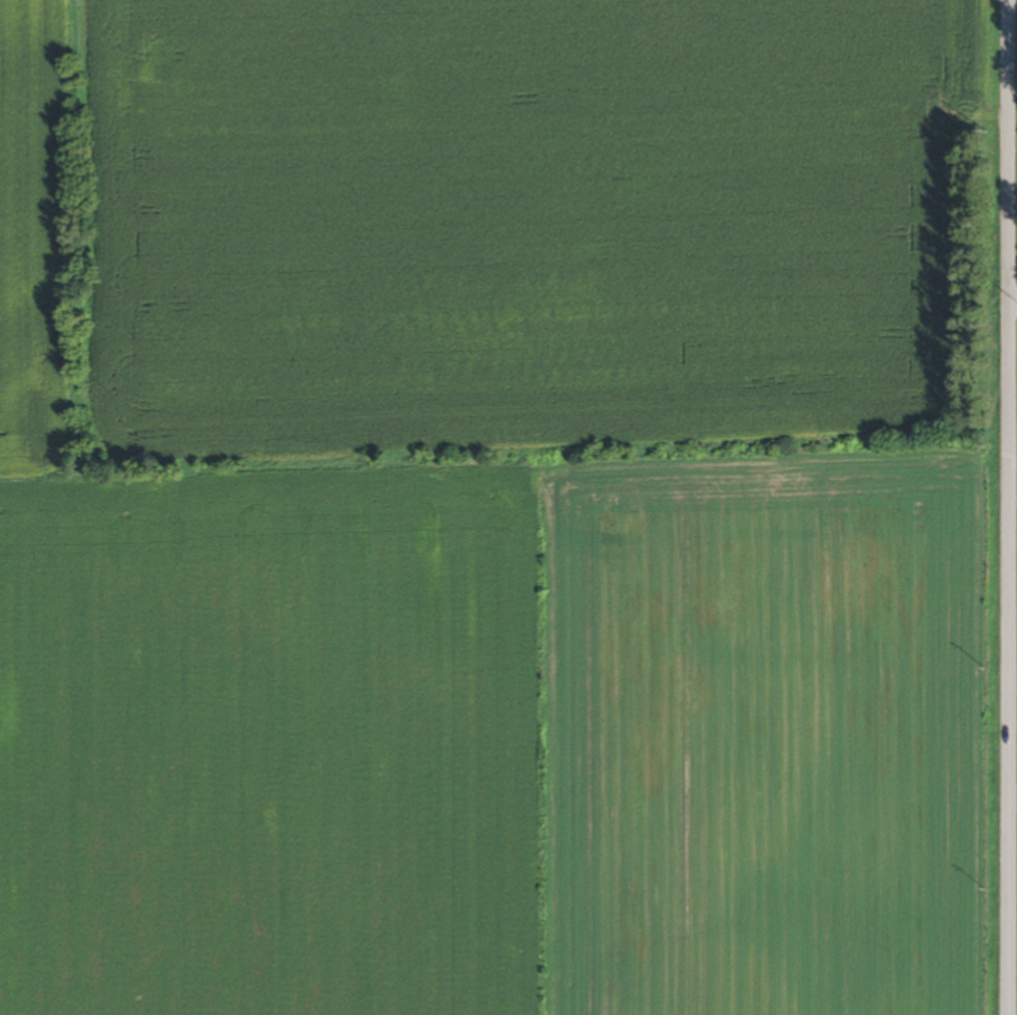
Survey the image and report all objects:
road: (1013, 304)
road: (1009, 507)

